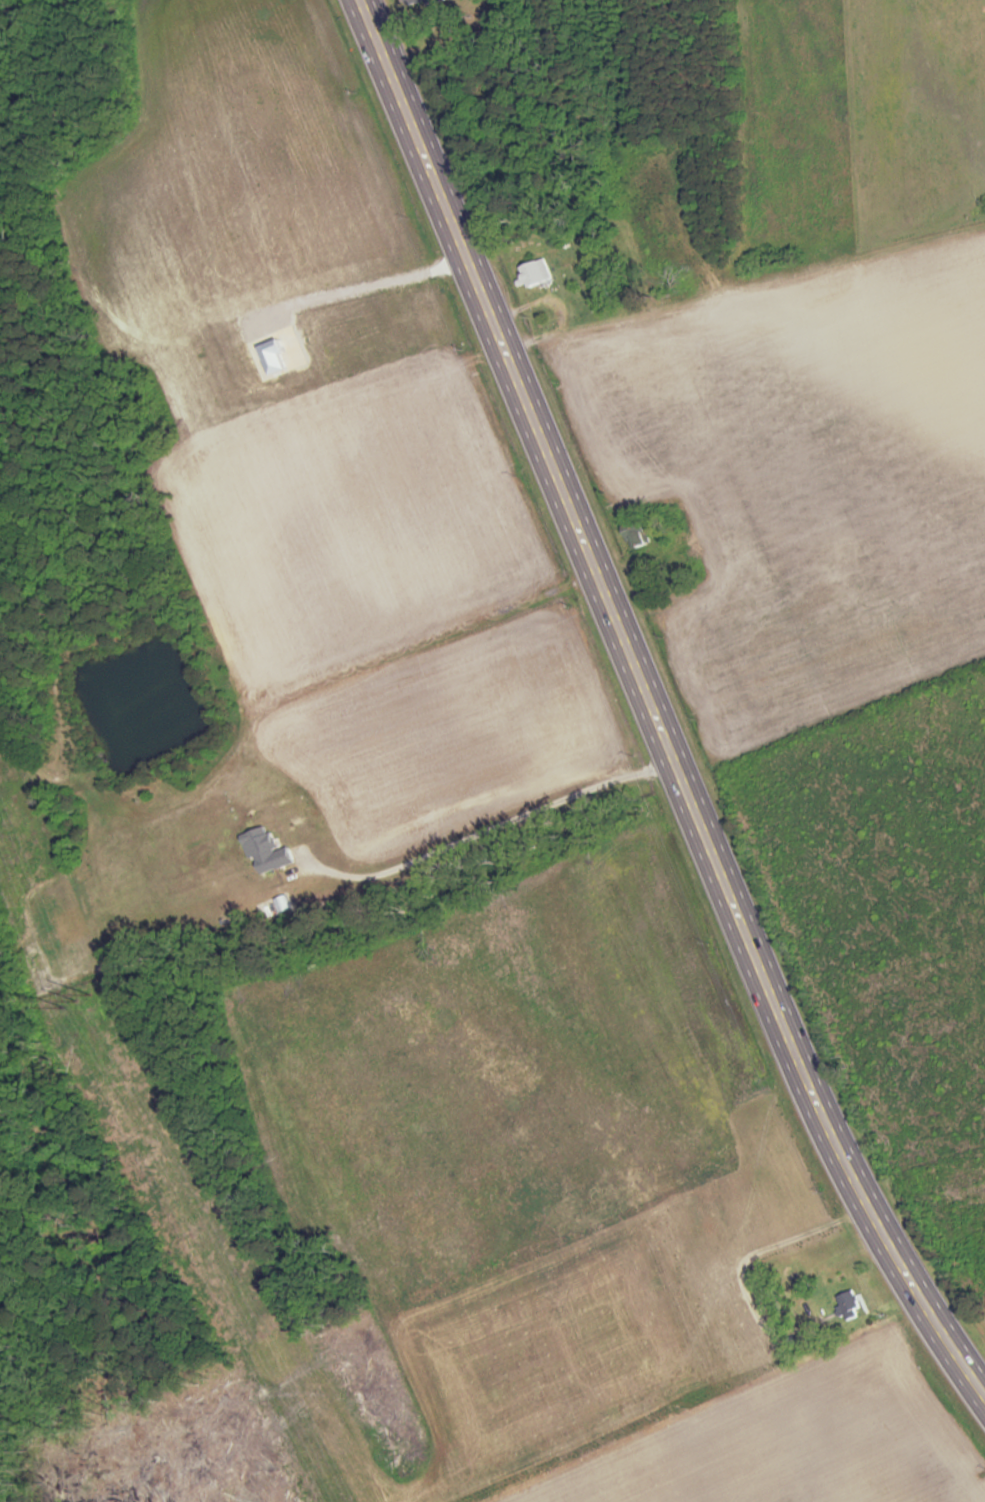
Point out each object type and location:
building: (417, 2)
building: (537, 272)
building: (640, 533)
building: (694, 563)
road: (651, 709)
road: (479, 800)
power tower: (80, 1002)
building: (849, 1304)

